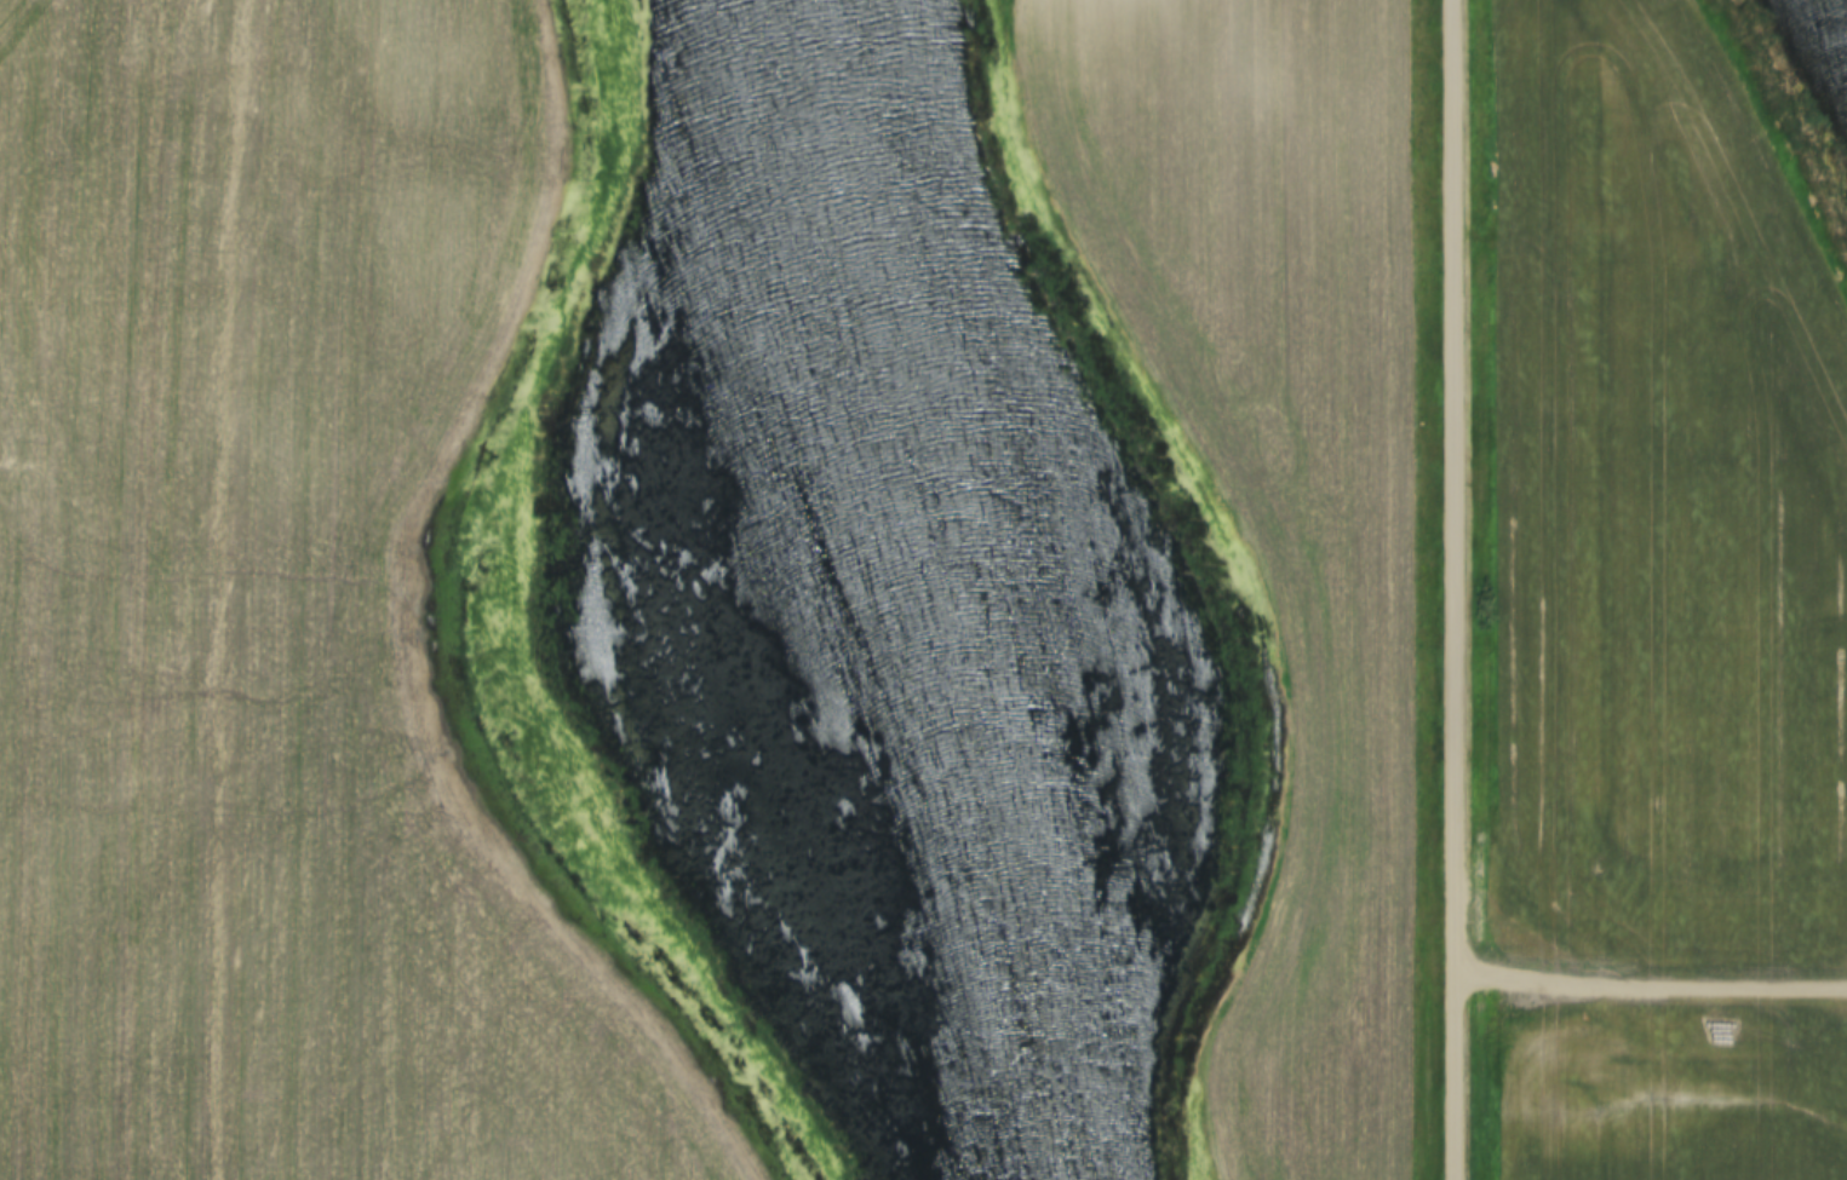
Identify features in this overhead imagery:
road: (1457, 589)

